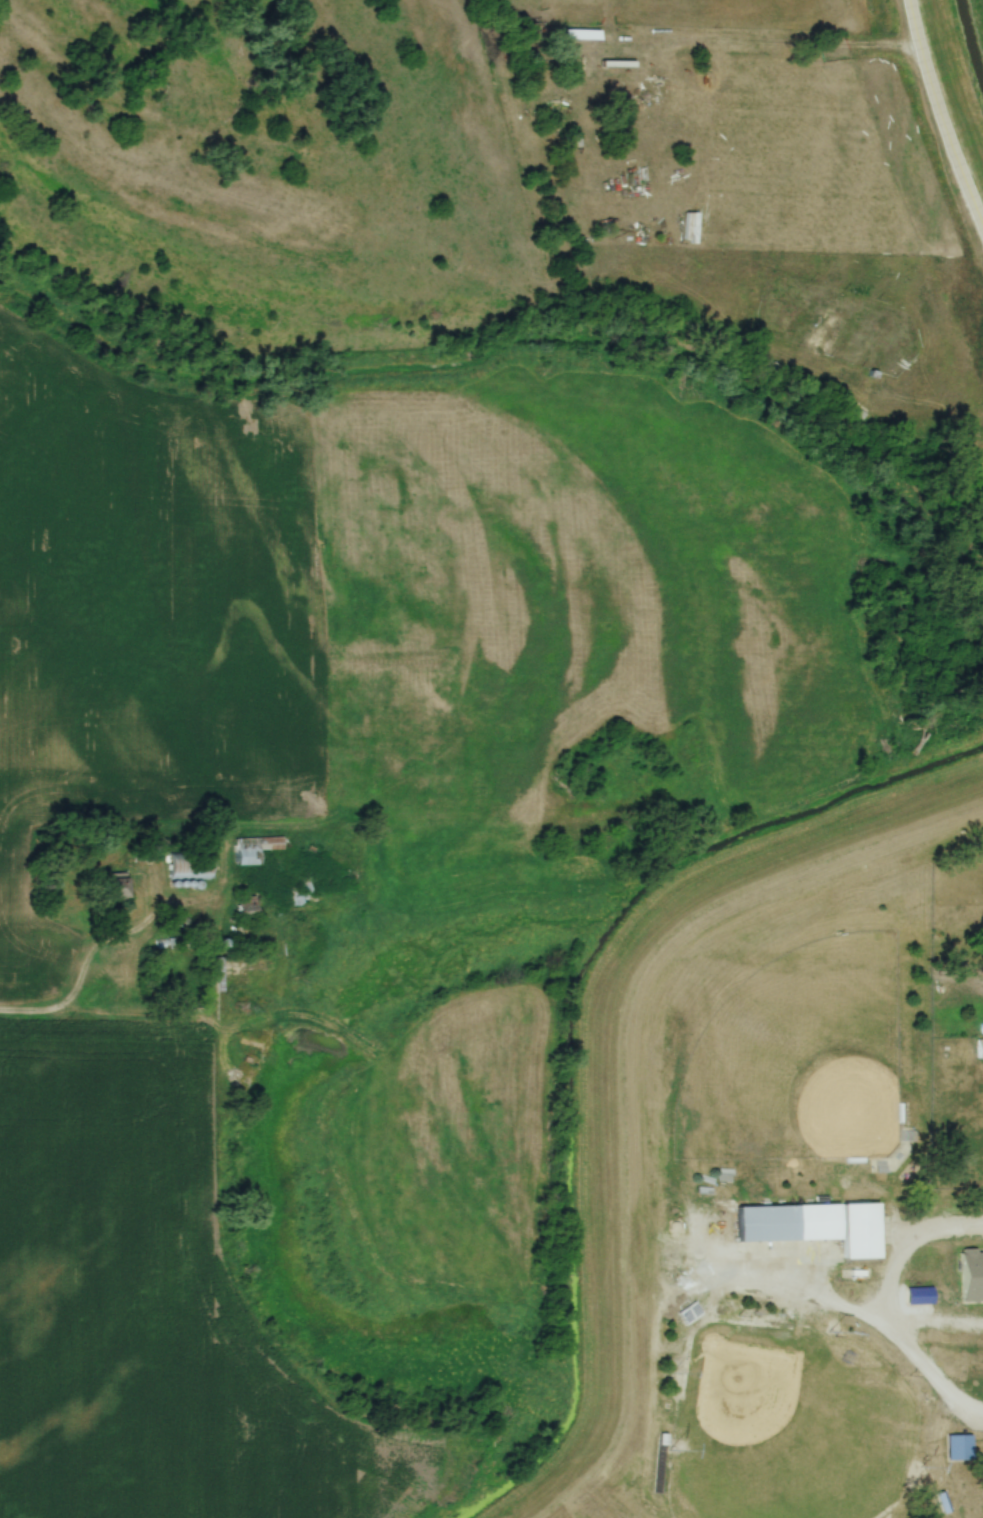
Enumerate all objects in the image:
road: (738, 41)
road: (940, 117)
building: (254, 849)
building: (190, 865)
building: (114, 886)
building: (303, 897)
building: (247, 907)
road: (91, 944)
building: (980, 1049)
building: (768, 1221)
building: (861, 1228)
building: (972, 1277)
road: (806, 1296)
building: (920, 1297)
road: (889, 1310)
park: (789, 1425)
building: (959, 1448)

